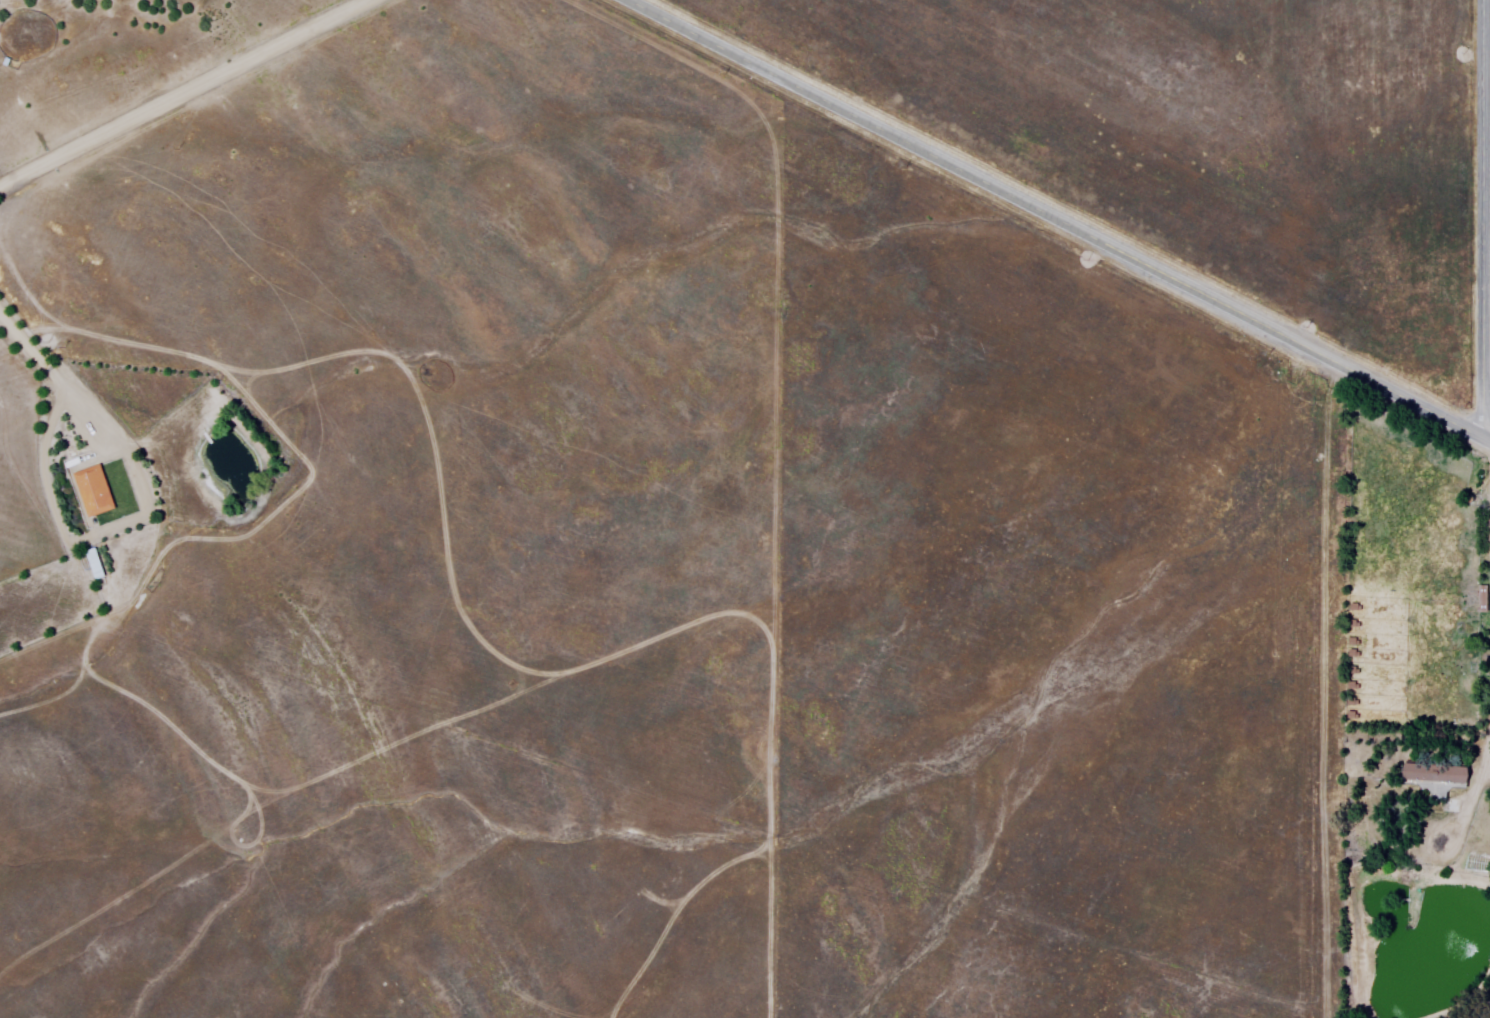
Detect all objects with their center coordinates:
road: (182, 90)
road: (1485, 219)
road: (1061, 220)
road: (53, 374)
building: (96, 492)
building: (1439, 779)

